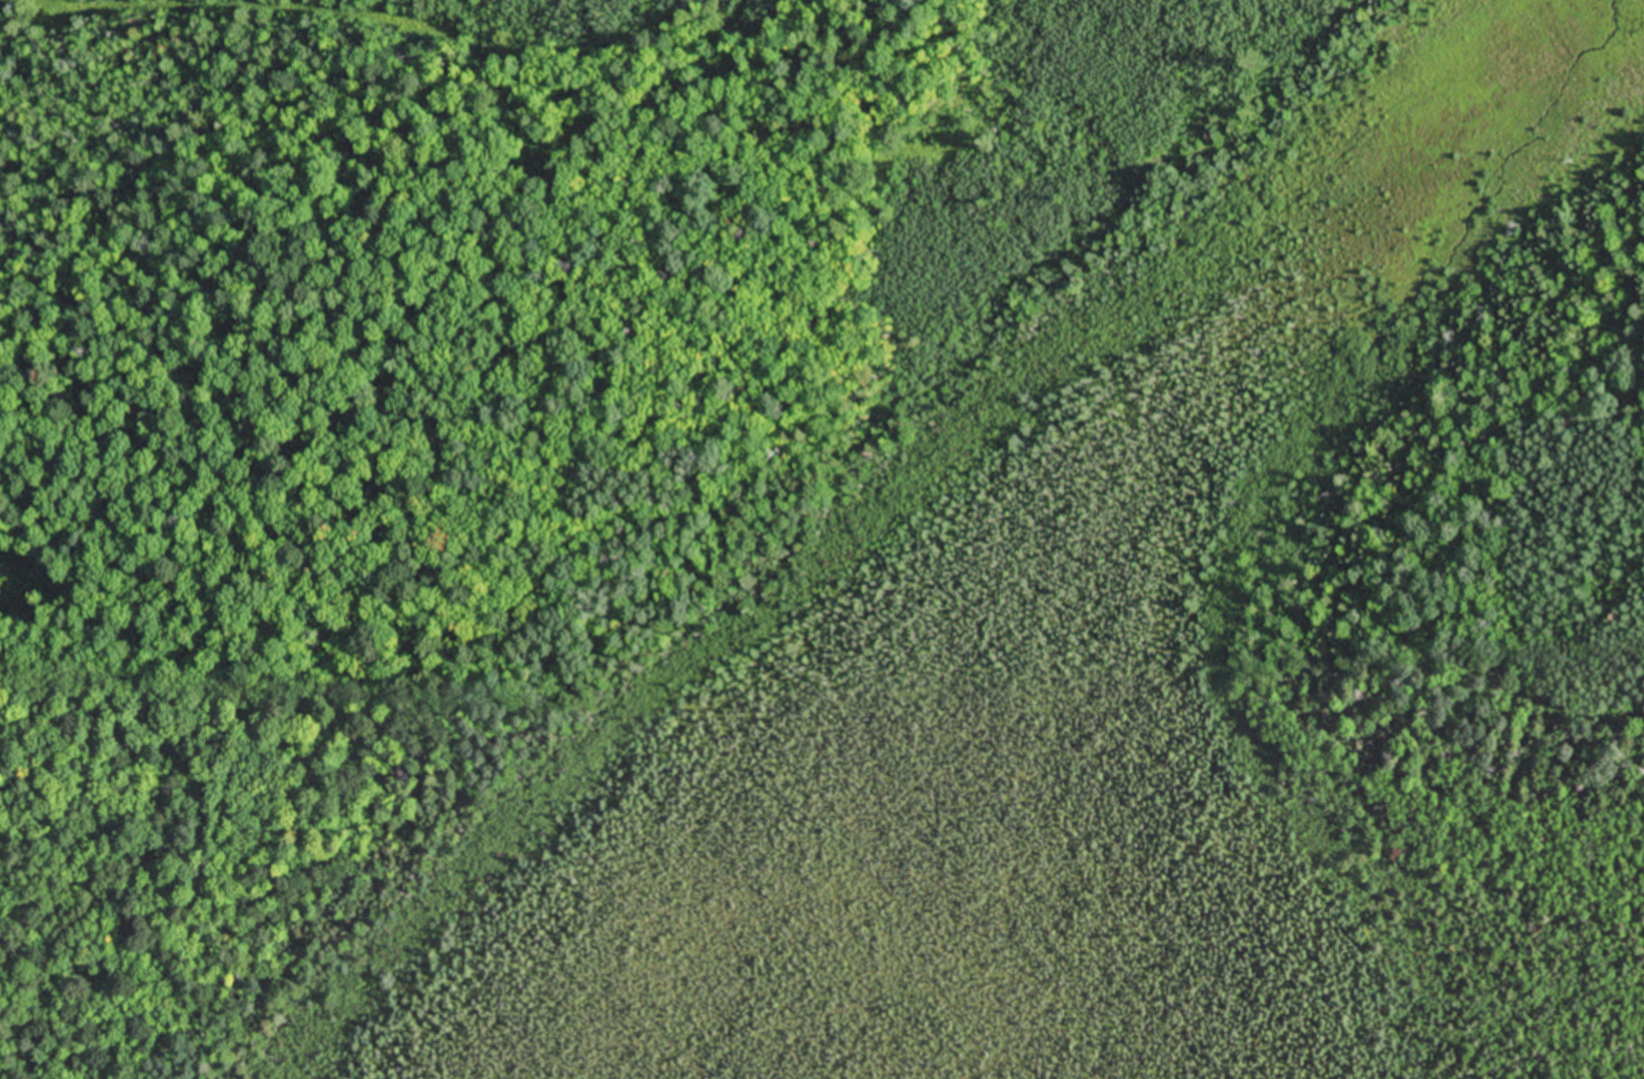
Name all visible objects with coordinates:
road: (4, 579)

